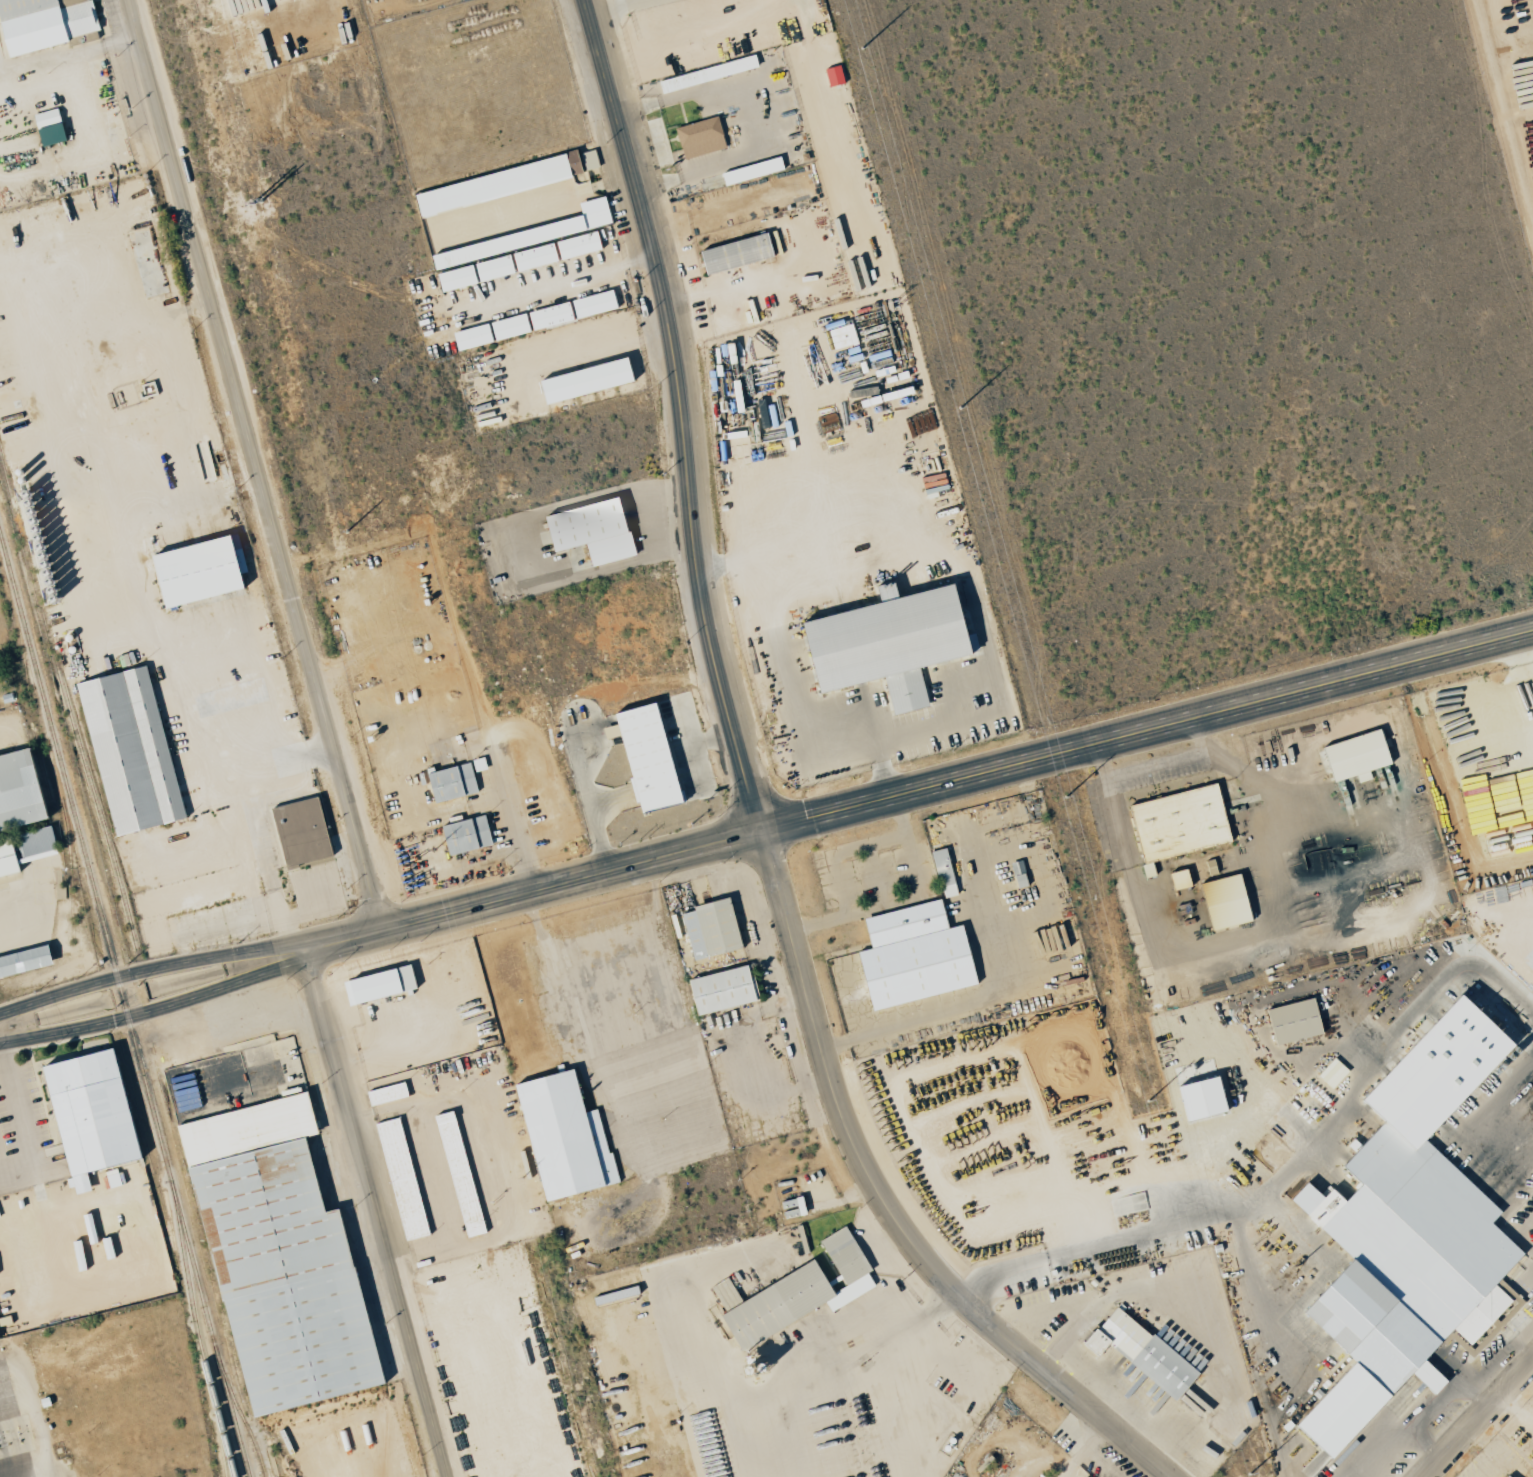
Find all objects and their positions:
road: (614, 8)
building: (42, 23)
power tower: (862, 48)
building: (707, 73)
building: (833, 75)
road: (768, 112)
building: (48, 127)
building: (699, 137)
building: (580, 160)
building: (751, 170)
building: (490, 185)
power tower: (257, 201)
building: (527, 235)
building: (555, 250)
building: (734, 253)
building: (474, 273)
building: (536, 319)
building: (583, 380)
power tower: (960, 408)
road: (255, 465)
building: (589, 530)
power tower: (346, 531)
road: (659, 539)
building: (193, 571)
building: (884, 643)
railway: (21, 654)
road: (1521, 678)
road: (792, 684)
railway: (66, 702)
building: (129, 750)
building: (1354, 755)
building: (643, 756)
road: (294, 760)
railway: (43, 775)
building: (450, 782)
building: (17, 792)
road: (917, 792)
power tower: (1065, 797)
road: (757, 801)
building: (1178, 821)
road: (514, 822)
building: (299, 832)
building: (464, 835)
power tower: (433, 851)
building: (6, 859)
railway: (70, 869)
building: (942, 872)
building: (1017, 874)
building: (1223, 901)
building: (709, 928)
building: (912, 955)
building: (23, 961)
road: (148, 969)
building: (378, 984)
building: (719, 989)
railway: (125, 1005)
road: (154, 1009)
building: (1292, 1021)
building: (1332, 1072)
railway: (160, 1075)
building: (385, 1093)
building: (1199, 1098)
power tower: (1148, 1101)
building: (87, 1114)
road: (24, 1123)
building: (562, 1136)
road: (1300, 1167)
building: (458, 1173)
building: (400, 1178)
power tower: (522, 1179)
building: (791, 1207)
road: (378, 1213)
building: (1405, 1232)
building: (276, 1258)
building: (798, 1293)
building: (725, 1294)
railway: (198, 1339)
road: (873, 1345)
building: (1140, 1352)
road: (1516, 1411)
railway: (243, 1419)
road: (1479, 1420)
road: (34, 1422)
road: (1419, 1435)
road: (1498, 1453)
railway: (226, 1455)
power tower: (1250, 1474)
building: (1084, 1476)
building: (1505, 1476)

